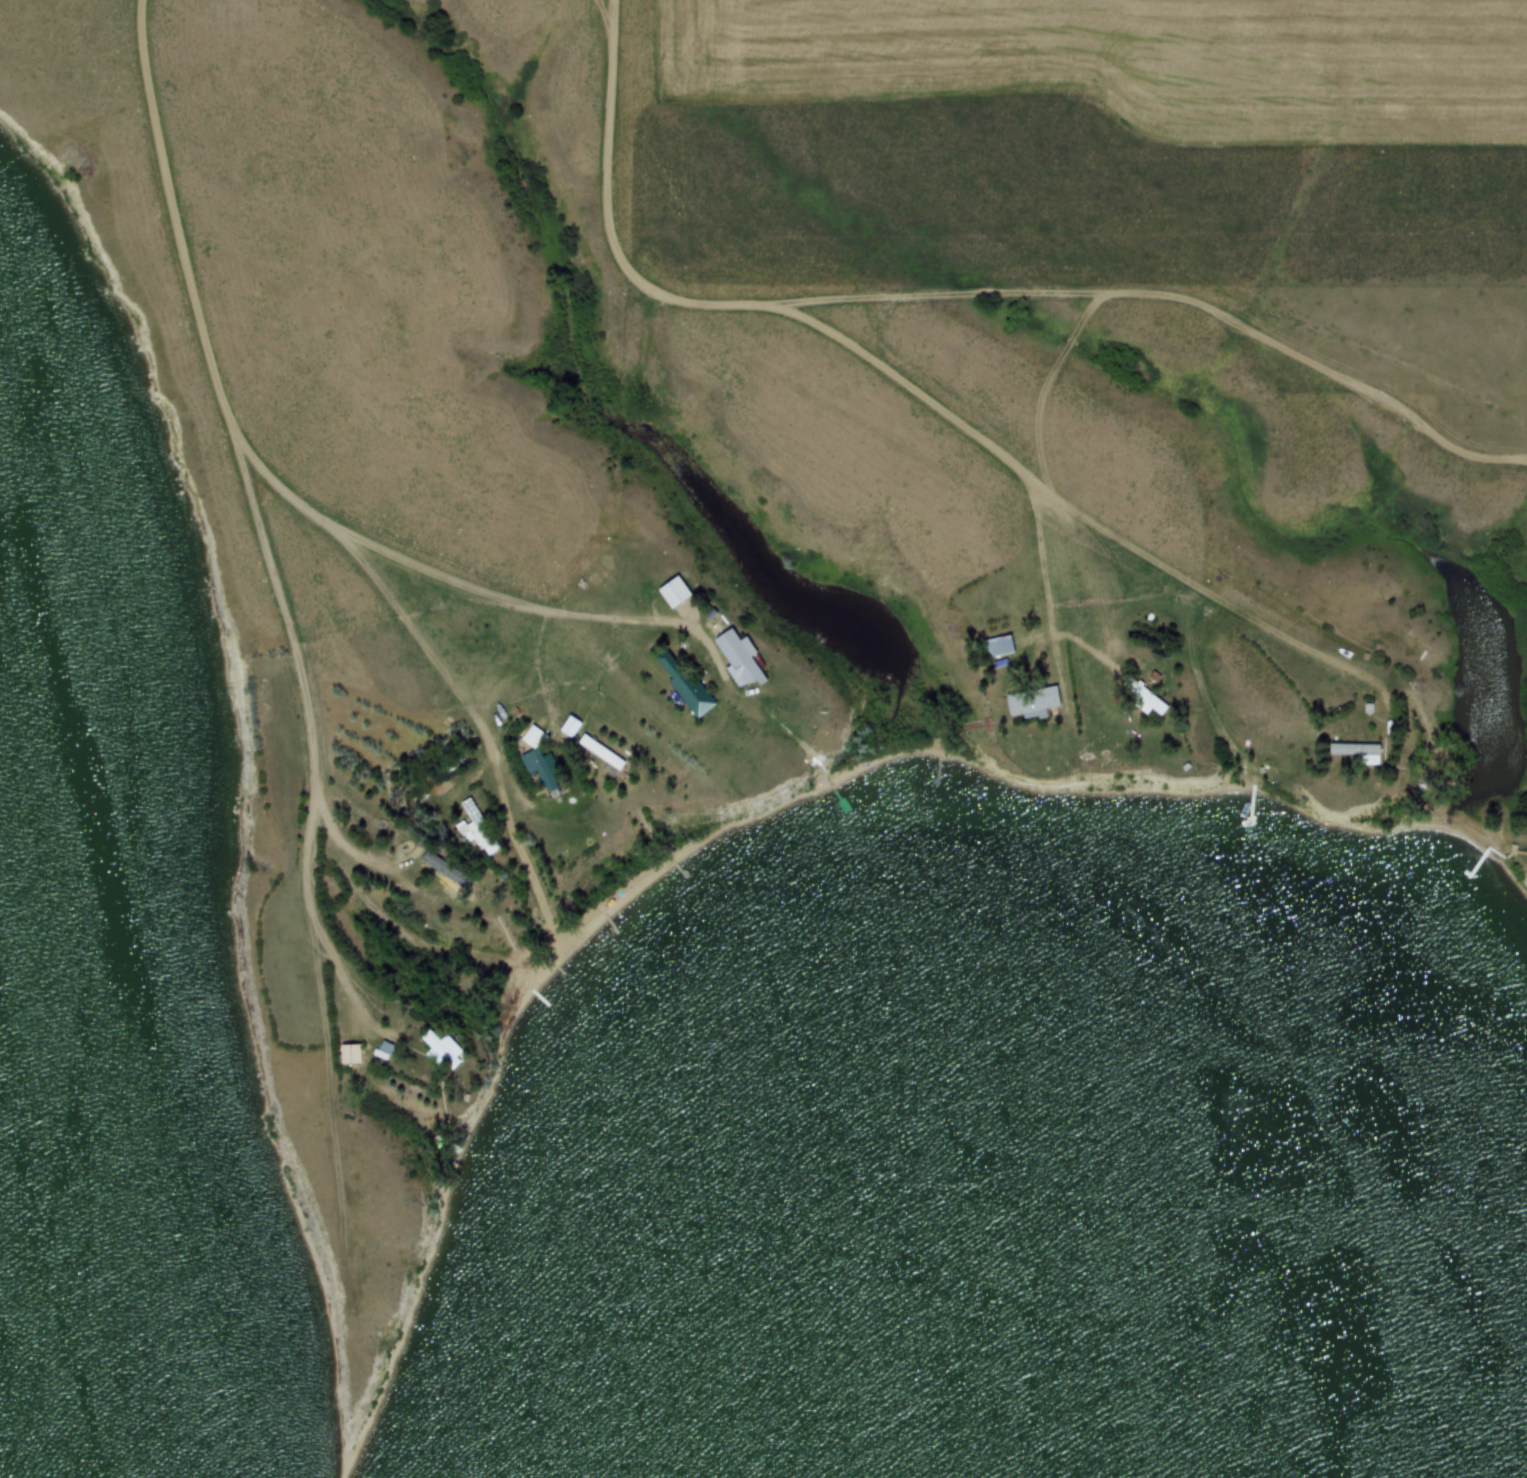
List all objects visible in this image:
road: (969, 296)
road: (253, 517)
road: (359, 535)
building: (674, 594)
building: (997, 646)
building: (738, 658)
building: (683, 685)
building: (1033, 702)
building: (570, 727)
building: (1358, 753)
building: (602, 754)
building: (539, 762)
building: (477, 829)
building: (394, 840)
building: (452, 879)
building: (442, 1049)
building: (350, 1055)

